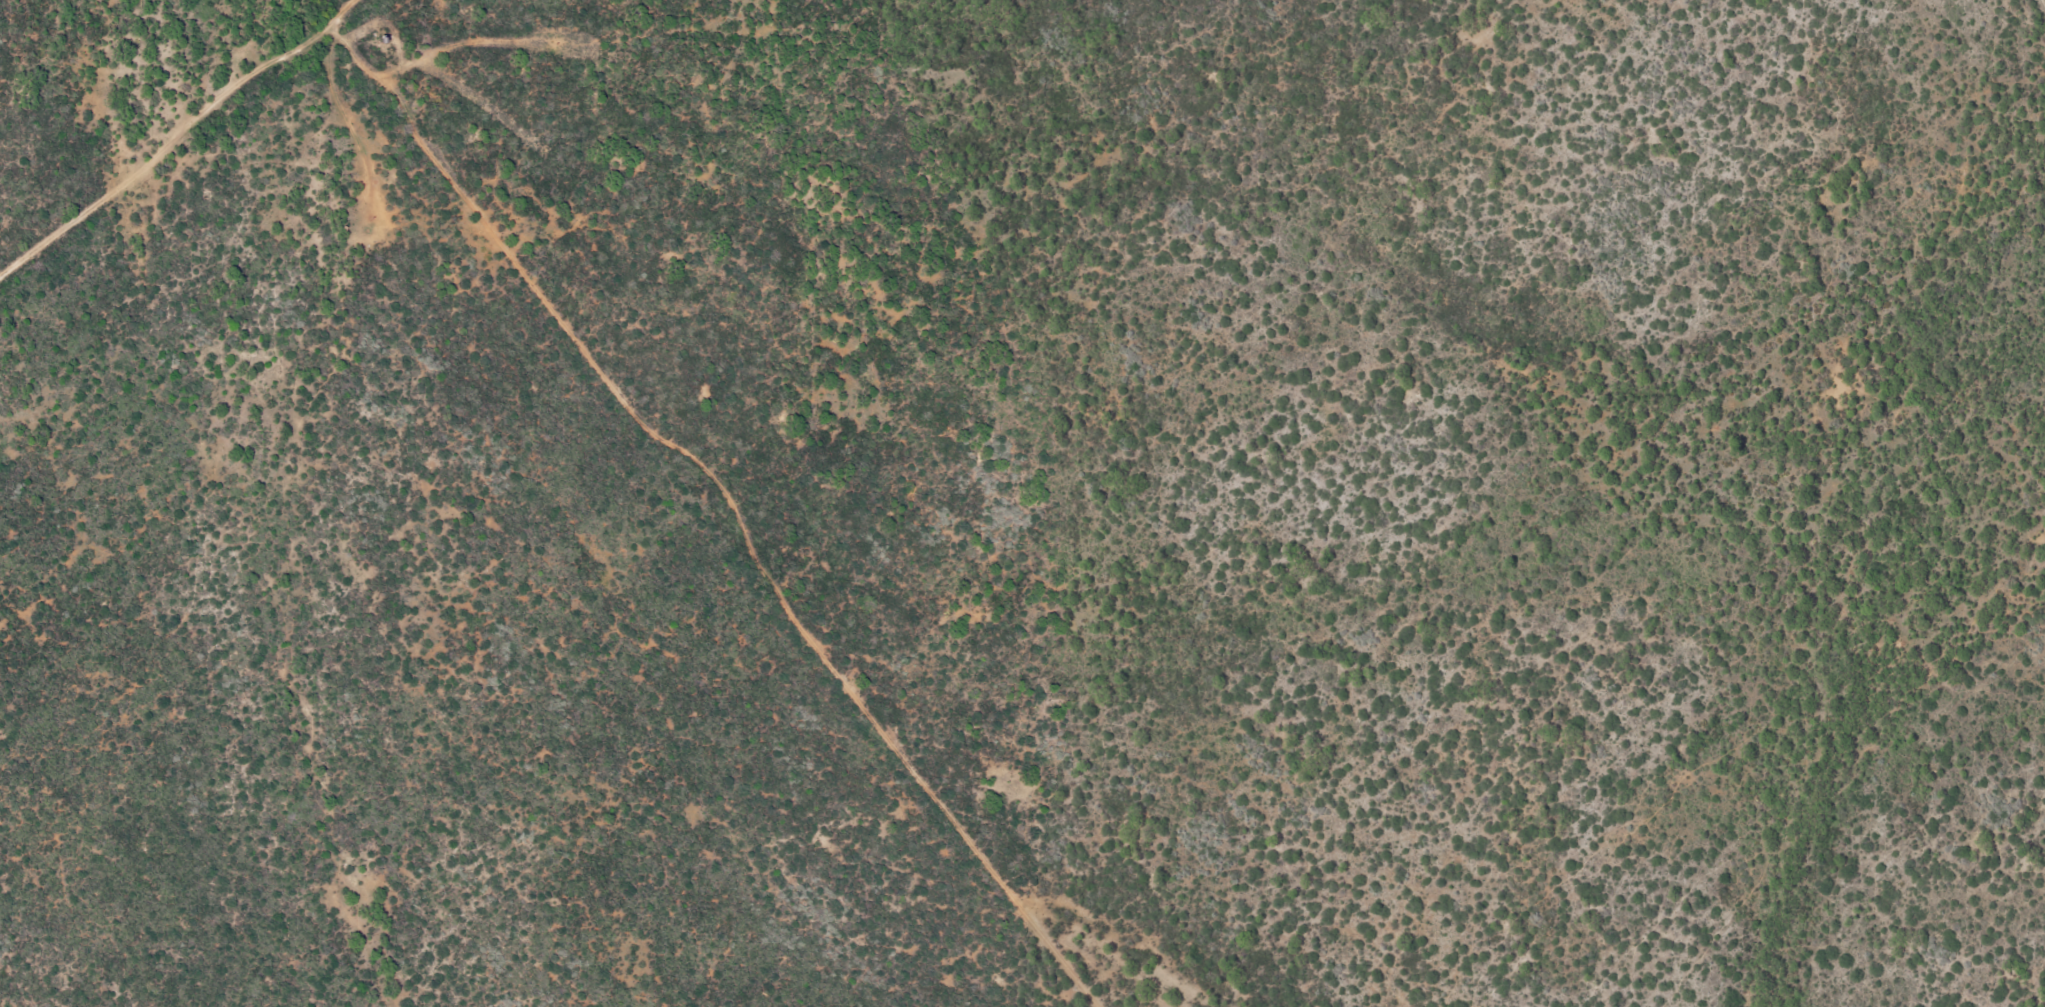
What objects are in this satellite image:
road: (344, 7)
road: (168, 149)

